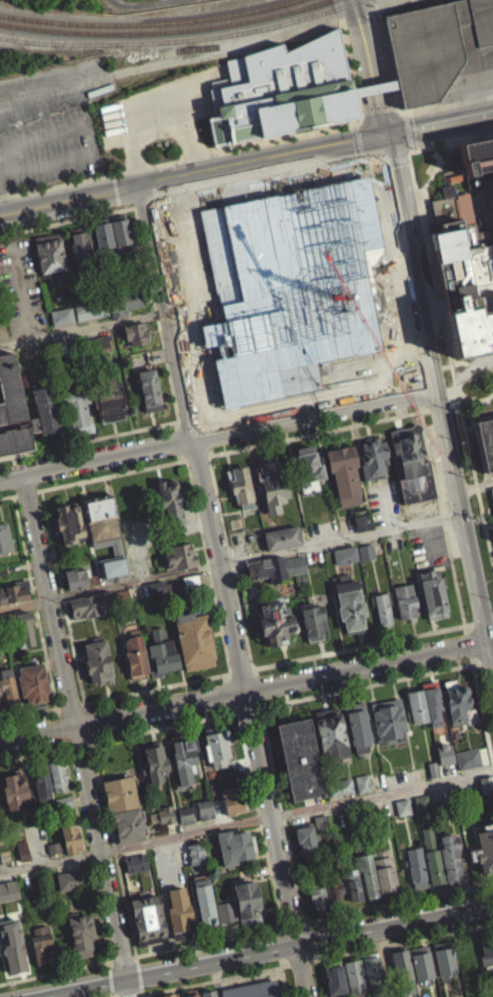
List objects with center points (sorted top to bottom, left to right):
road: (114, 0)
building: (141, 0)
building: (127, 1)
road: (122, 2)
railway: (446, 2)
road: (142, 4)
railway: (160, 29)
railway: (176, 38)
railway: (193, 47)
building: (439, 48)
road: (351, 70)
road: (55, 88)
building: (285, 90)
road: (377, 104)
road: (438, 107)
road: (361, 110)
parking lot: (51, 124)
road: (407, 129)
traffic signals: (384, 135)
road: (465, 138)
road: (92, 140)
road: (411, 147)
road: (316, 148)
building: (476, 154)
road: (177, 159)
road: (112, 174)
road: (115, 188)
road: (70, 199)
road: (2, 200)
road: (119, 206)
road: (67, 219)
road: (423, 226)
building: (121, 229)
building: (103, 235)
building: (118, 239)
building: (82, 248)
building: (49, 254)
building: (121, 281)
building: (465, 284)
building: (288, 285)
parking lot: (20, 288)
road: (21, 290)
building: (91, 309)
building: (61, 315)
road: (157, 315)
building: (82, 319)
building: (60, 323)
road: (83, 328)
building: (135, 333)
road: (425, 335)
building: (98, 343)
building: (100, 350)
road: (463, 362)
road: (469, 370)
building: (10, 386)
building: (148, 386)
building: (108, 396)
road: (455, 404)
road: (440, 407)
building: (46, 408)
building: (77, 411)
road: (217, 432)
road: (317, 432)
building: (15, 435)
road: (89, 438)
road: (181, 439)
building: (485, 440)
building: (14, 448)
road: (196, 456)
building: (373, 458)
road: (471, 458)
building: (412, 463)
building: (311, 471)
road: (113, 473)
building: (344, 473)
building: (271, 482)
building: (240, 486)
road: (38, 489)
road: (26, 492)
building: (492, 492)
parking garage: (492, 492)
road: (14, 495)
road: (6, 496)
building: (170, 499)
building: (491, 501)
road: (443, 517)
building: (101, 518)
building: (69, 522)
building: (362, 522)
building: (282, 536)
building: (5, 537)
building: (492, 539)
parking lot: (427, 546)
building: (365, 551)
building: (344, 553)
building: (179, 555)
building: (364, 559)
road: (230, 561)
building: (343, 562)
building: (295, 564)
road: (231, 565)
building: (2, 568)
road: (209, 568)
building: (262, 568)
building: (75, 577)
building: (191, 580)
building: (156, 586)
building: (176, 587)
road: (225, 590)
building: (432, 590)
building: (14, 591)
building: (404, 599)
road: (63, 600)
building: (348, 602)
building: (90, 604)
road: (35, 606)
building: (382, 606)
building: (312, 619)
road: (483, 620)
building: (24, 628)
building: (272, 628)
road: (465, 628)
building: (194, 639)
road: (490, 640)
road: (468, 643)
road: (362, 649)
building: (161, 653)
building: (135, 654)
building: (97, 659)
road: (486, 659)
road: (250, 677)
road: (239, 679)
road: (253, 679)
road: (226, 682)
road: (224, 685)
building: (32, 686)
building: (9, 687)
road: (368, 687)
road: (256, 694)
road: (154, 697)
road: (245, 698)
road: (227, 700)
building: (456, 700)
building: (432, 702)
building: (1, 704)
building: (416, 704)
road: (482, 707)
road: (261, 709)
road: (81, 712)
road: (68, 714)
road: (84, 715)
road: (245, 715)
road: (229, 716)
road: (56, 717)
building: (0, 718)
building: (388, 719)
road: (55, 720)
road: (27, 722)
building: (358, 726)
road: (87, 729)
road: (163, 732)
road: (57, 733)
road: (77, 734)
building: (330, 734)
building: (216, 744)
road: (90, 745)
road: (59, 746)
road: (62, 748)
road: (75, 748)
road: (88, 748)
road: (30, 754)
building: (184, 758)
building: (299, 758)
building: (155, 761)
building: (443, 762)
building: (466, 766)
building: (433, 767)
building: (211, 773)
building: (57, 774)
building: (41, 782)
building: (362, 782)
building: (486, 783)
building: (340, 786)
building: (212, 787)
building: (16, 791)
building: (361, 791)
building: (120, 792)
building: (342, 794)
building: (231, 799)
building: (63, 801)
building: (421, 802)
building: (402, 806)
building: (205, 808)
building: (165, 813)
building: (185, 814)
building: (401, 814)
building: (203, 817)
road: (282, 817)
road: (246, 821)
road: (259, 821)
building: (164, 822)
building: (183, 822)
building: (321, 822)
building: (128, 825)
building: (70, 838)
building: (306, 841)
building: (233, 845)
building: (54, 847)
building: (23, 849)
building: (483, 849)
road: (114, 851)
road: (86, 854)
building: (52, 855)
building: (449, 855)
building: (433, 857)
building: (21, 858)
building: (193, 858)
building: (135, 862)
building: (417, 865)
building: (134, 870)
building: (367, 873)
building: (385, 875)
building: (70, 879)
building: (352, 885)
building: (67, 887)
building: (333, 887)
building: (318, 892)
building: (7, 898)
building: (204, 900)
building: (247, 900)
building: (336, 900)
road: (398, 902)
building: (179, 913)
building: (148, 919)
building: (223, 919)
road: (302, 922)
road: (292, 924)
road: (283, 926)
building: (81, 933)
road: (208, 940)
road: (401, 941)
building: (42, 944)
building: (12, 945)
road: (281, 947)
building: (486, 947)
road: (133, 955)
road: (120, 957)
building: (443, 957)
road: (136, 958)
road: (109, 960)
building: (421, 961)
road: (300, 962)
road: (105, 968)
building: (372, 969)
building: (402, 969)
road: (53, 971)
building: (354, 973)
road: (139, 974)
road: (283, 976)
road: (323, 977)
building: (335, 978)
road: (212, 980)
road: (107, 986)
road: (142, 990)
building: (253, 990)
building: (190, 993)
building: (208, 993)
road: (143, 995)
building: (168, 995)

